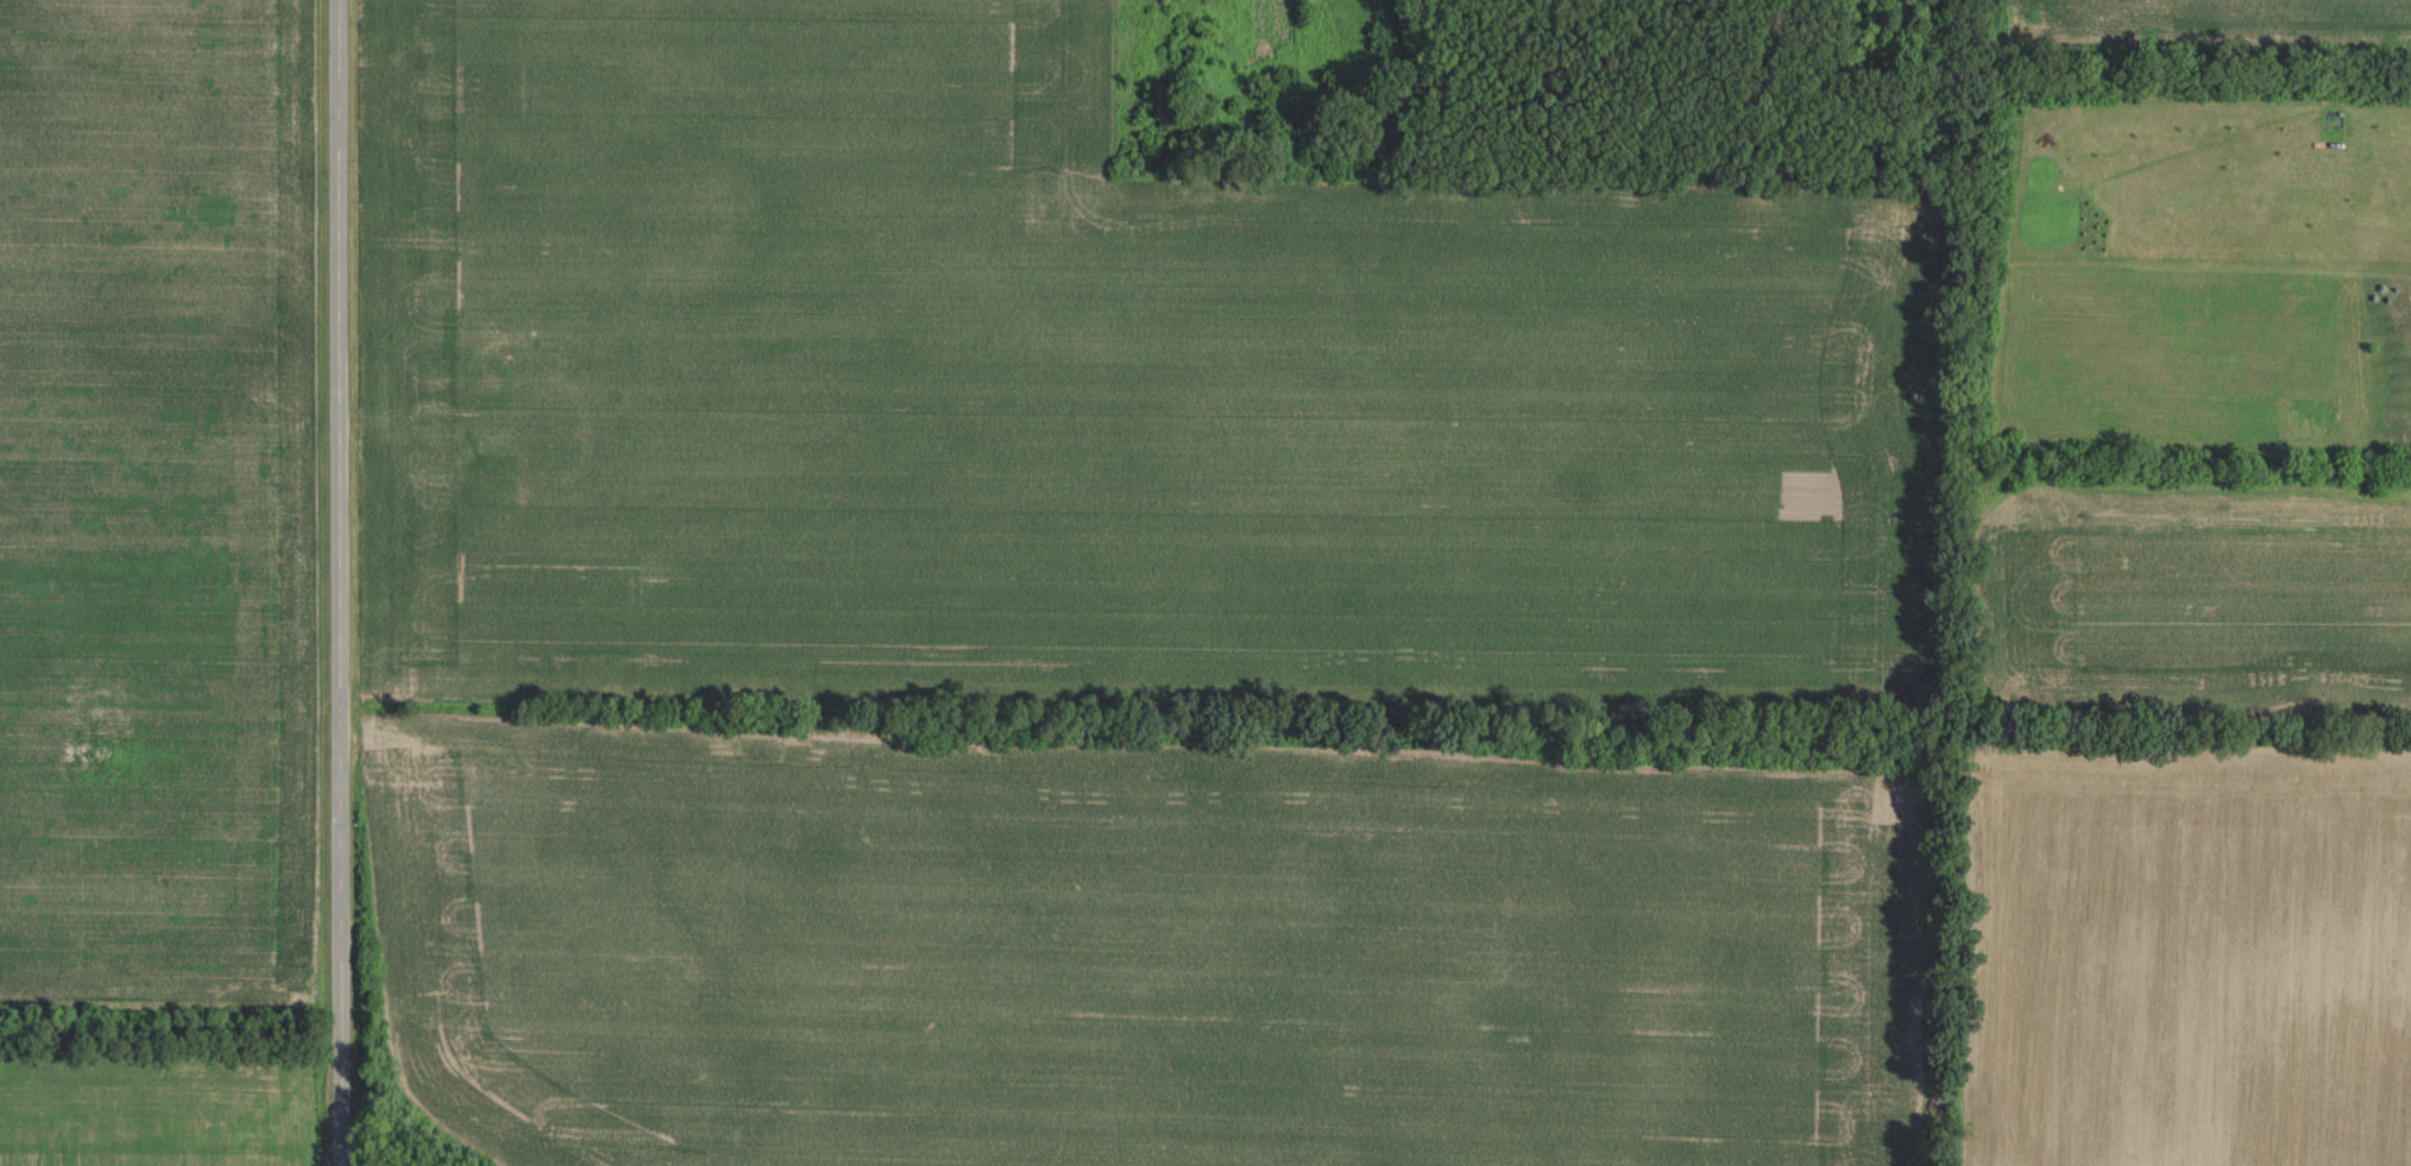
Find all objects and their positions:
road: (340, 582)

